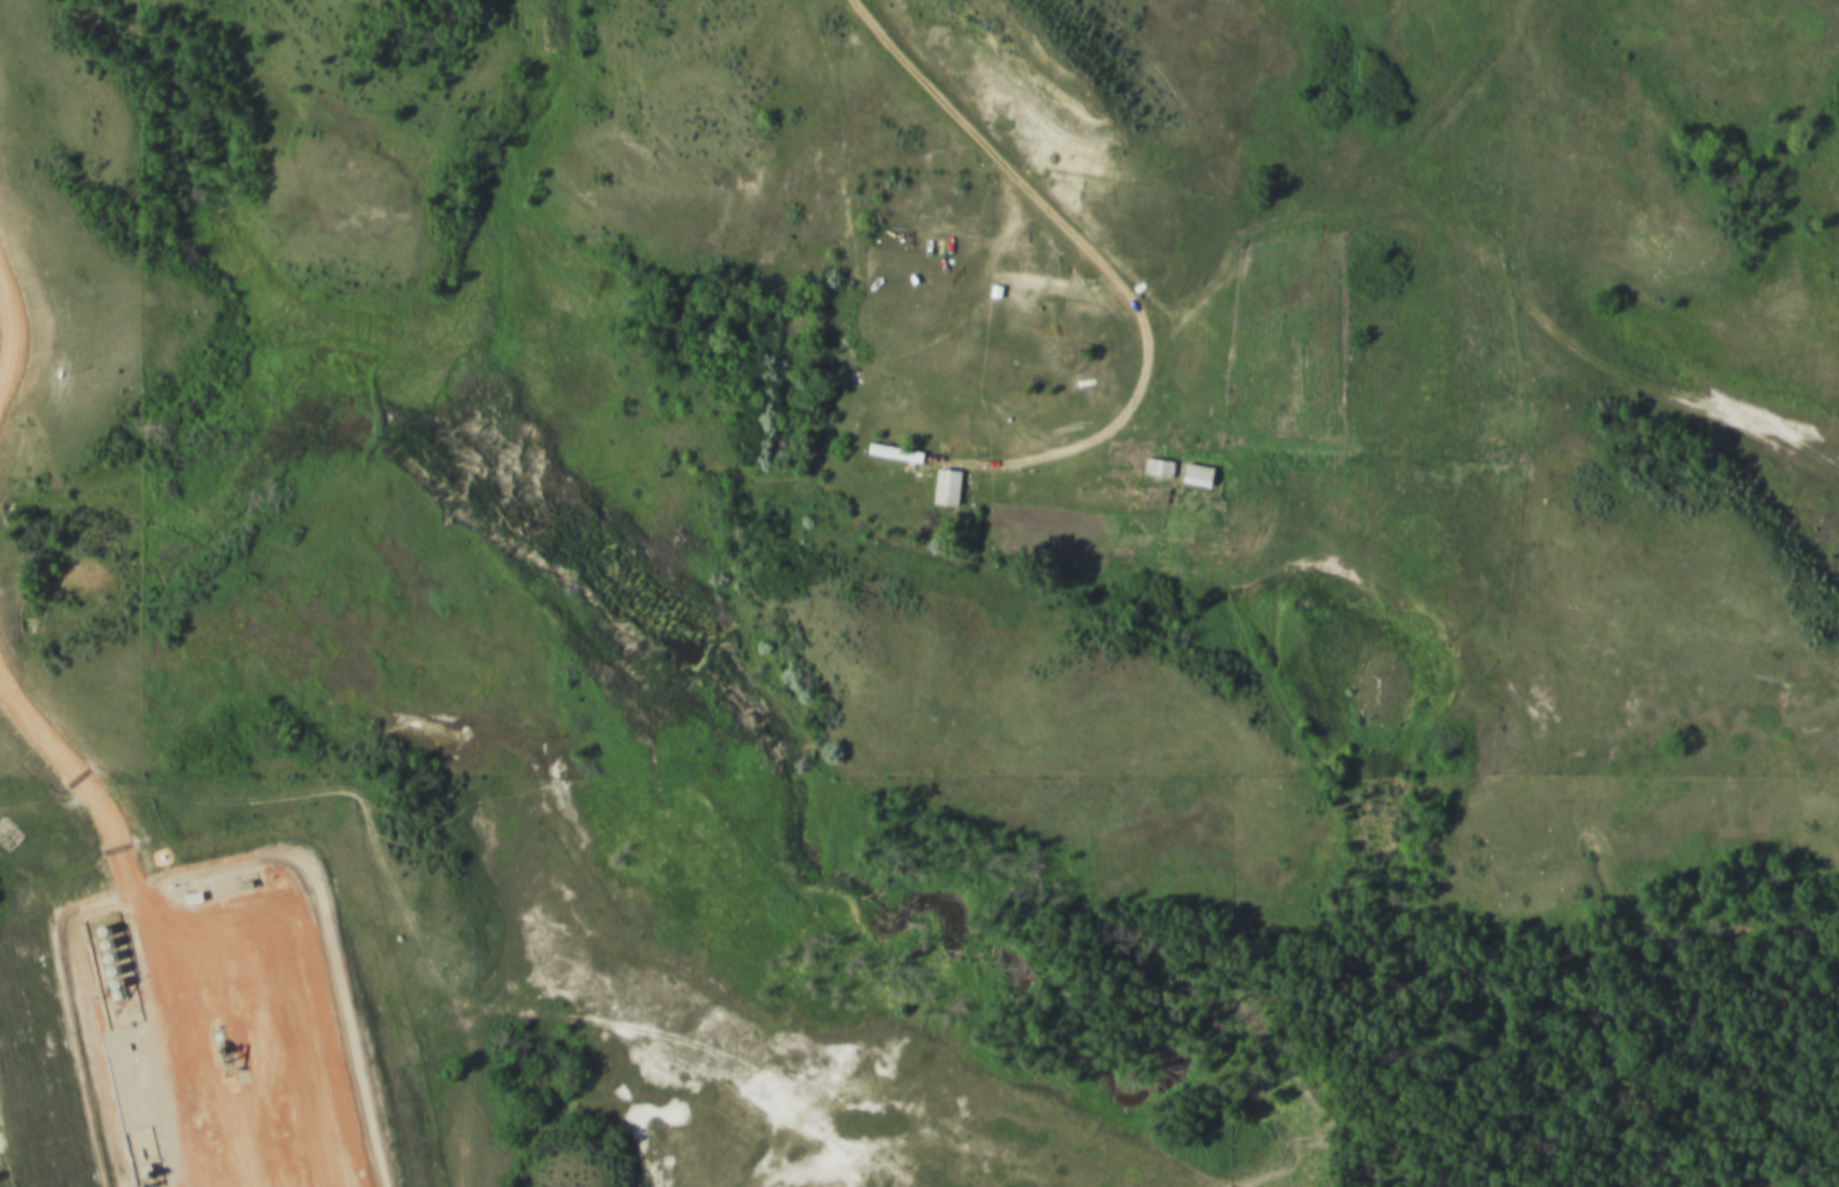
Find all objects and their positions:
road: (1422, 128)
road: (1091, 260)
road: (1493, 286)
road: (2, 340)
building: (888, 453)
building: (1149, 471)
building: (1187, 478)
building: (939, 487)
road: (137, 922)
building: (92, 929)
storage tank: (92, 929)
building: (95, 944)
storage tank: (95, 944)
building: (97, 957)
storage tank: (97, 957)
building: (101, 970)
storage tank: (101, 970)
petroleum well: (212, 1050)
road: (951, 1186)

